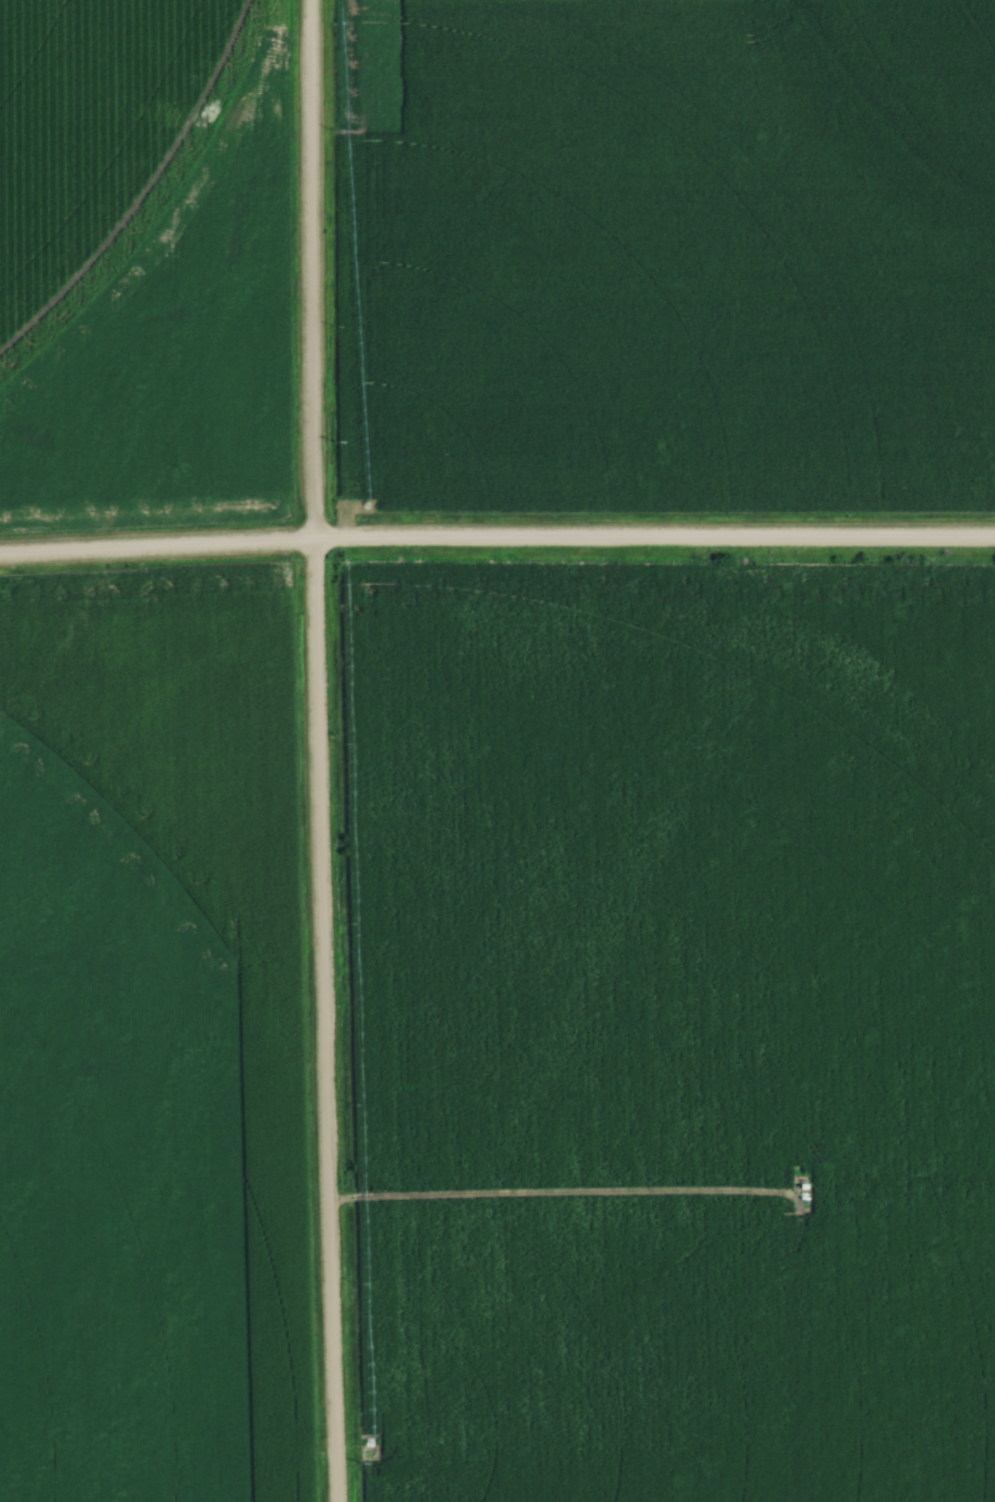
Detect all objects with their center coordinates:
road: (497, 541)
road: (313, 751)
crop: (669, 874)

